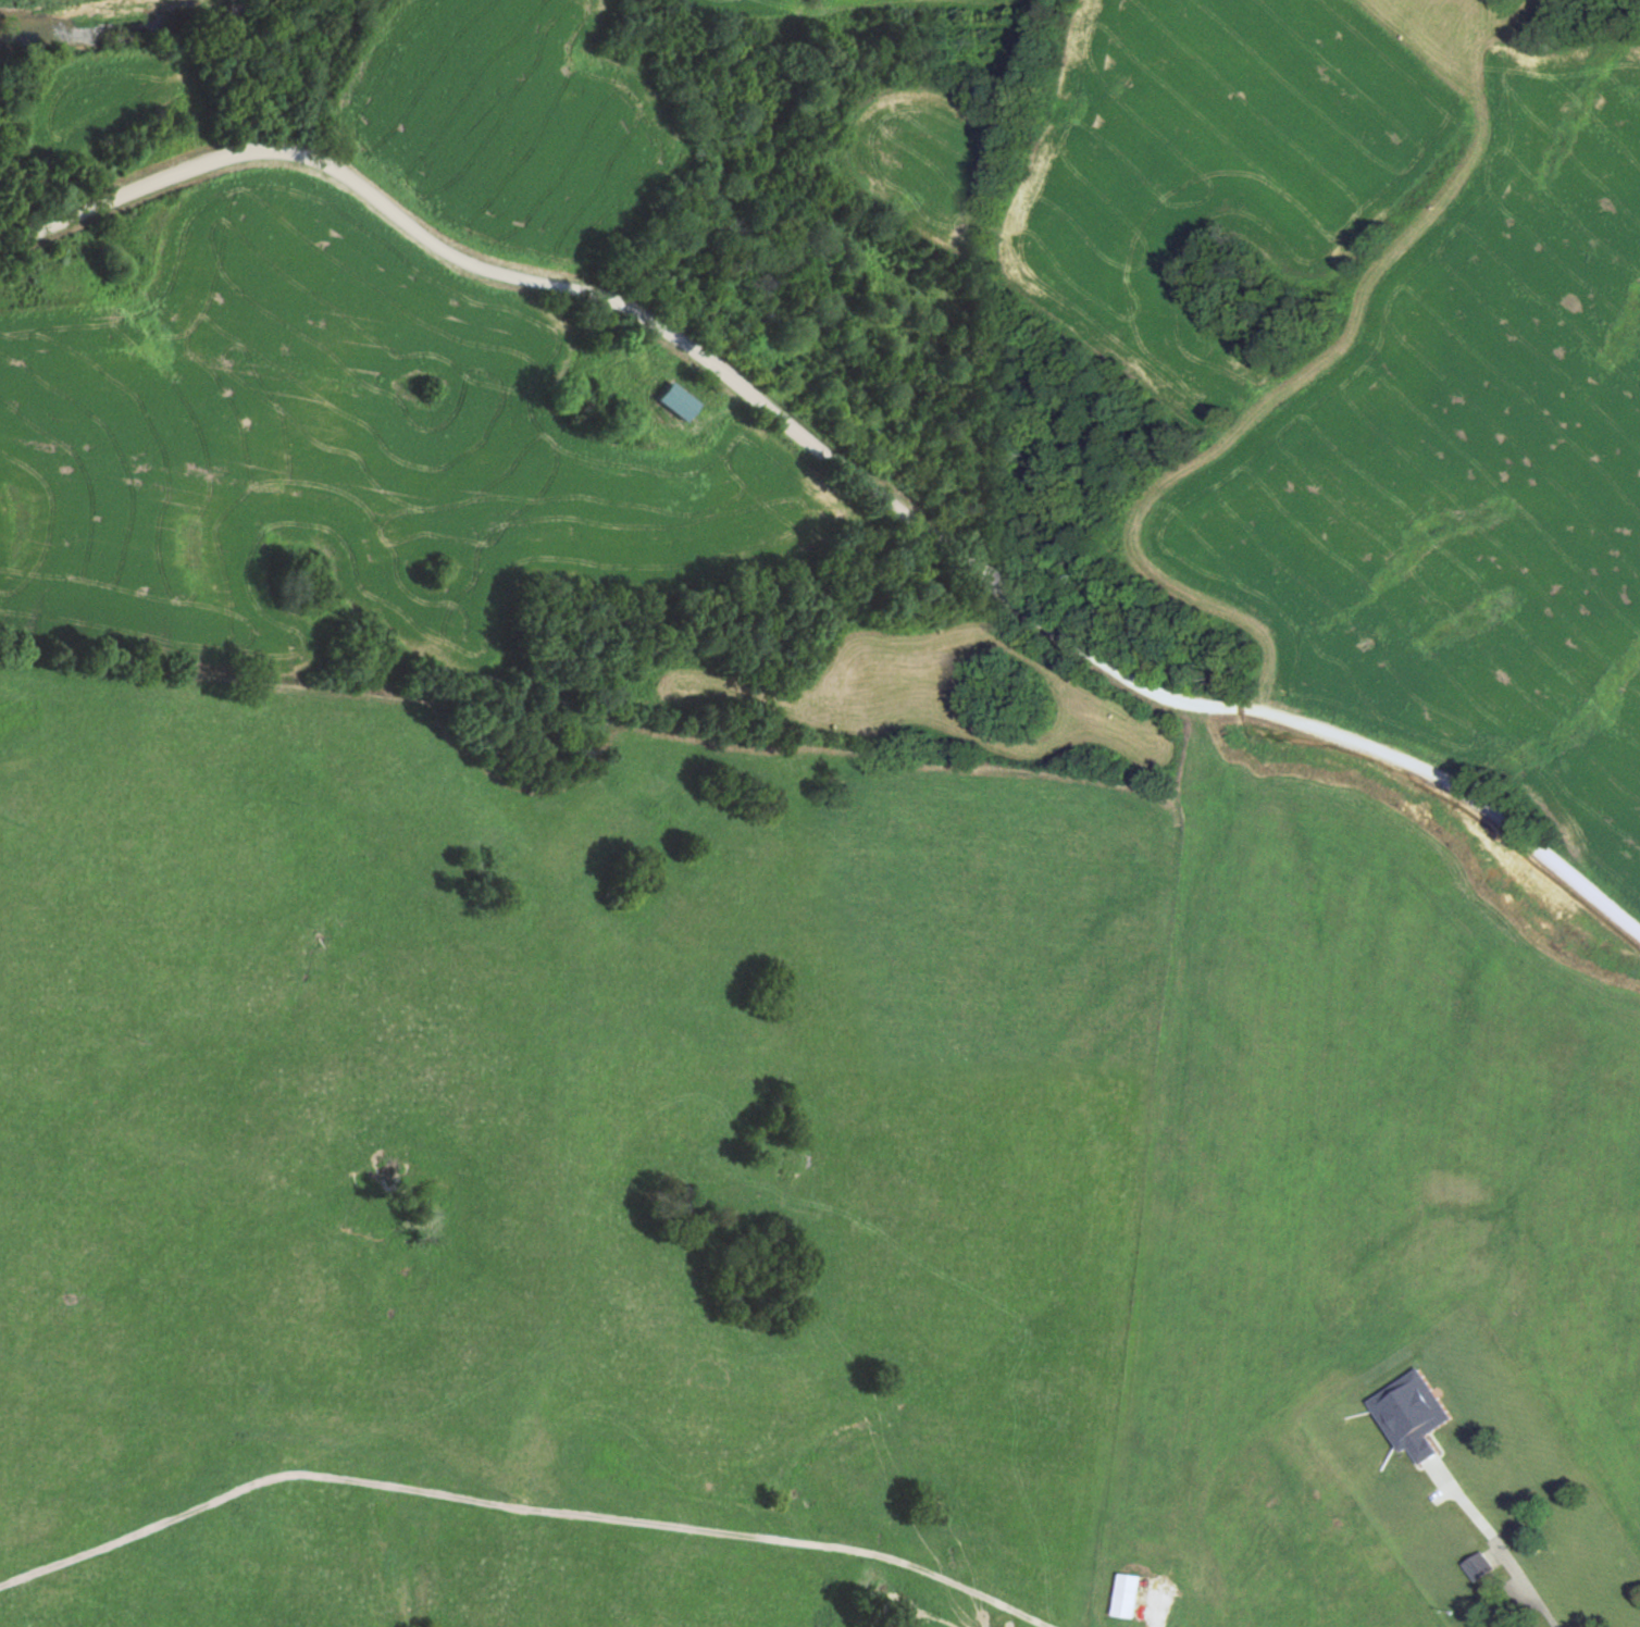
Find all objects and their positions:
road: (831, 461)
building: (1465, 1510)
building: (1476, 1564)
building: (1125, 1592)

